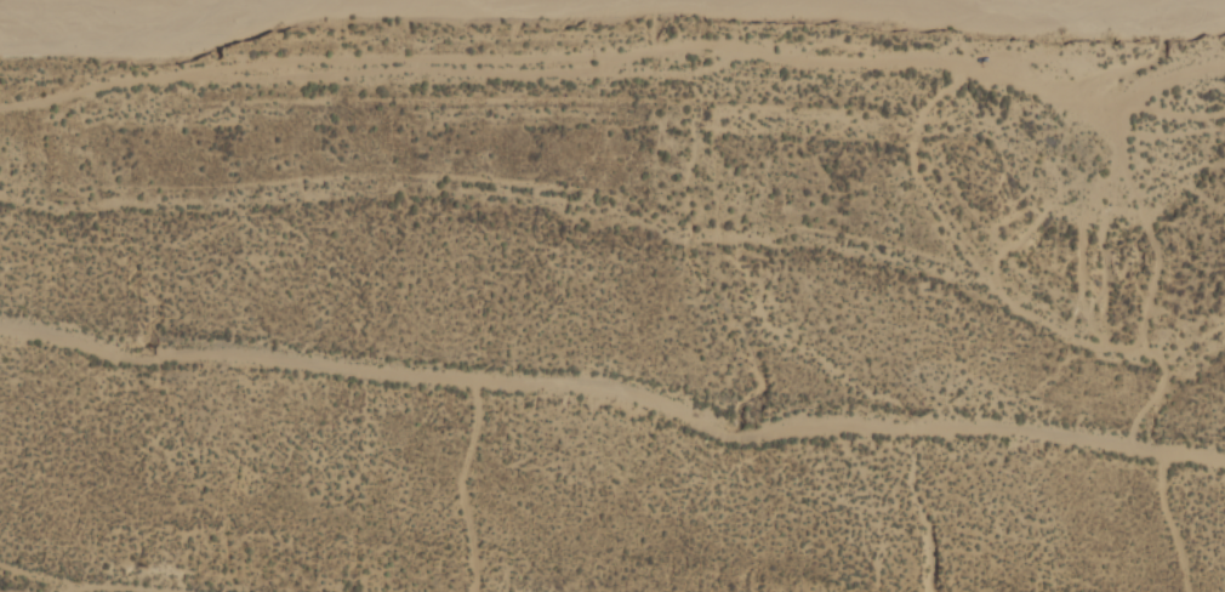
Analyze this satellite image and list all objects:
river: (146, 21)

